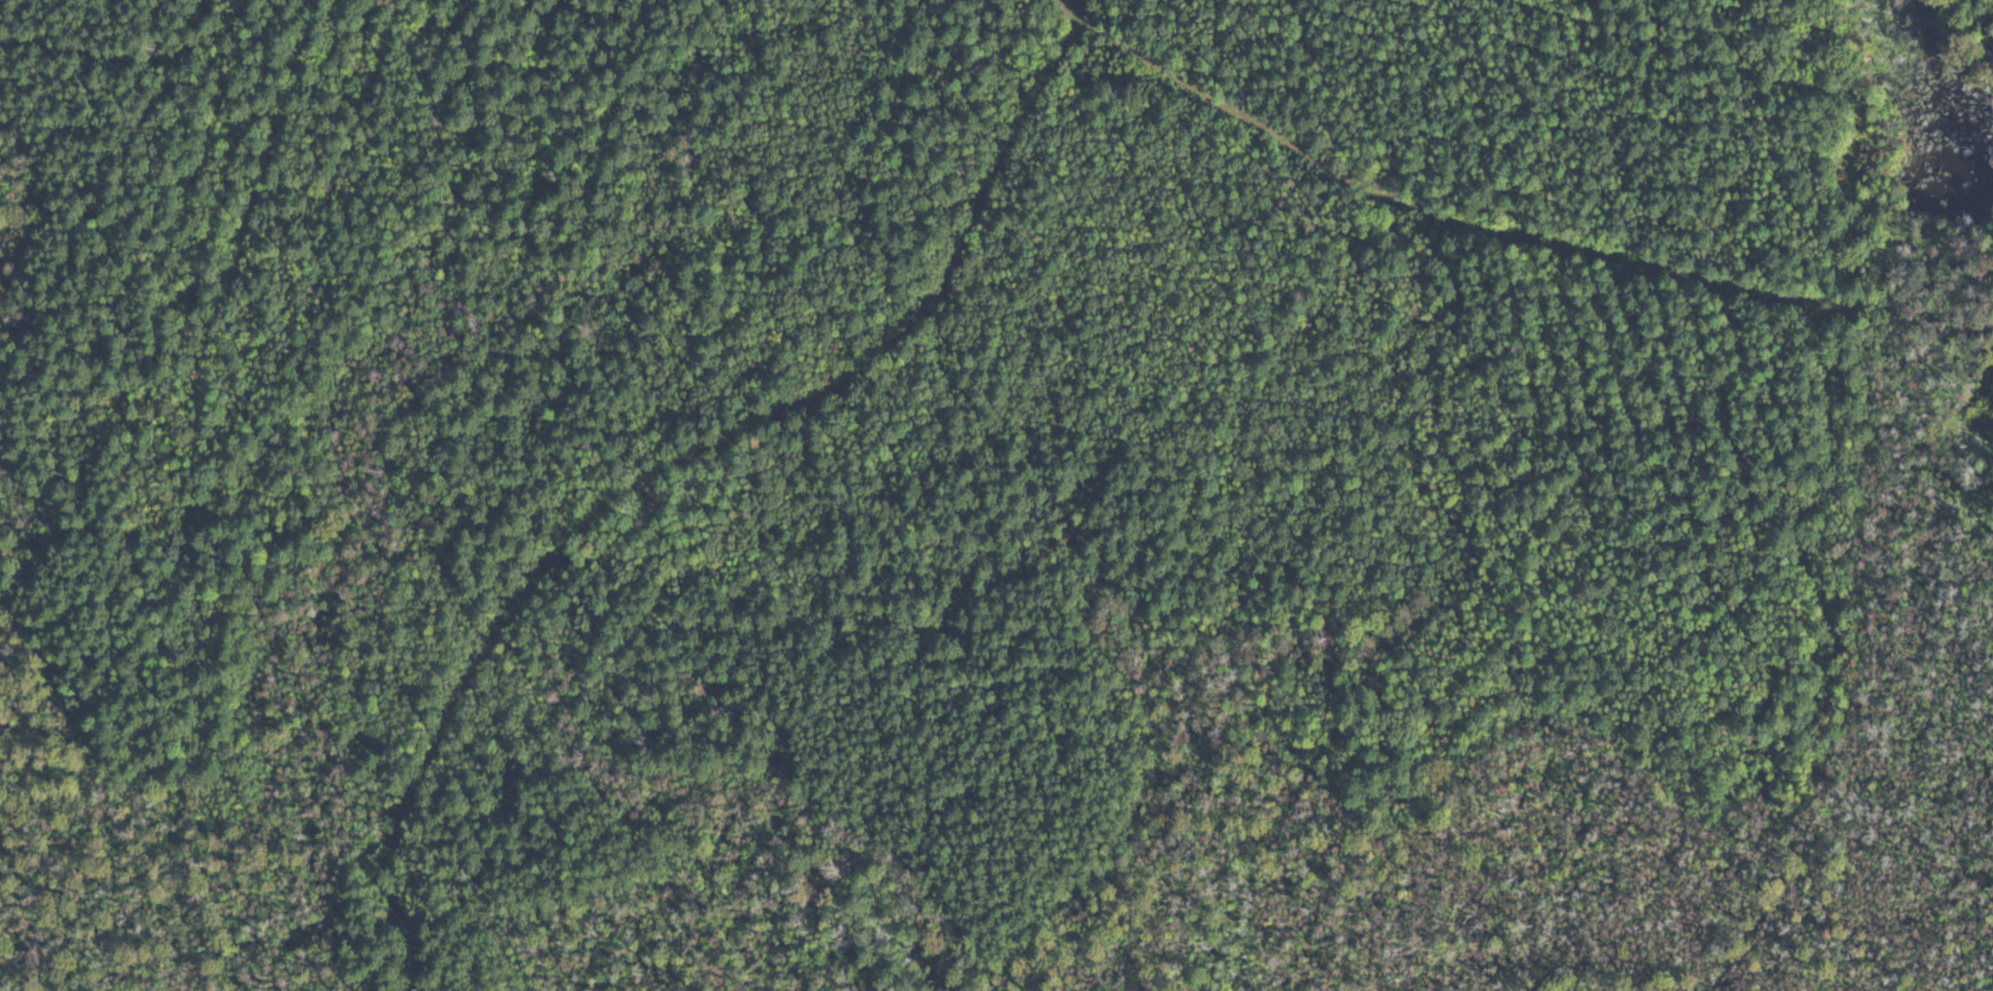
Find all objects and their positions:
road: (774, 437)
park: (996, 495)

